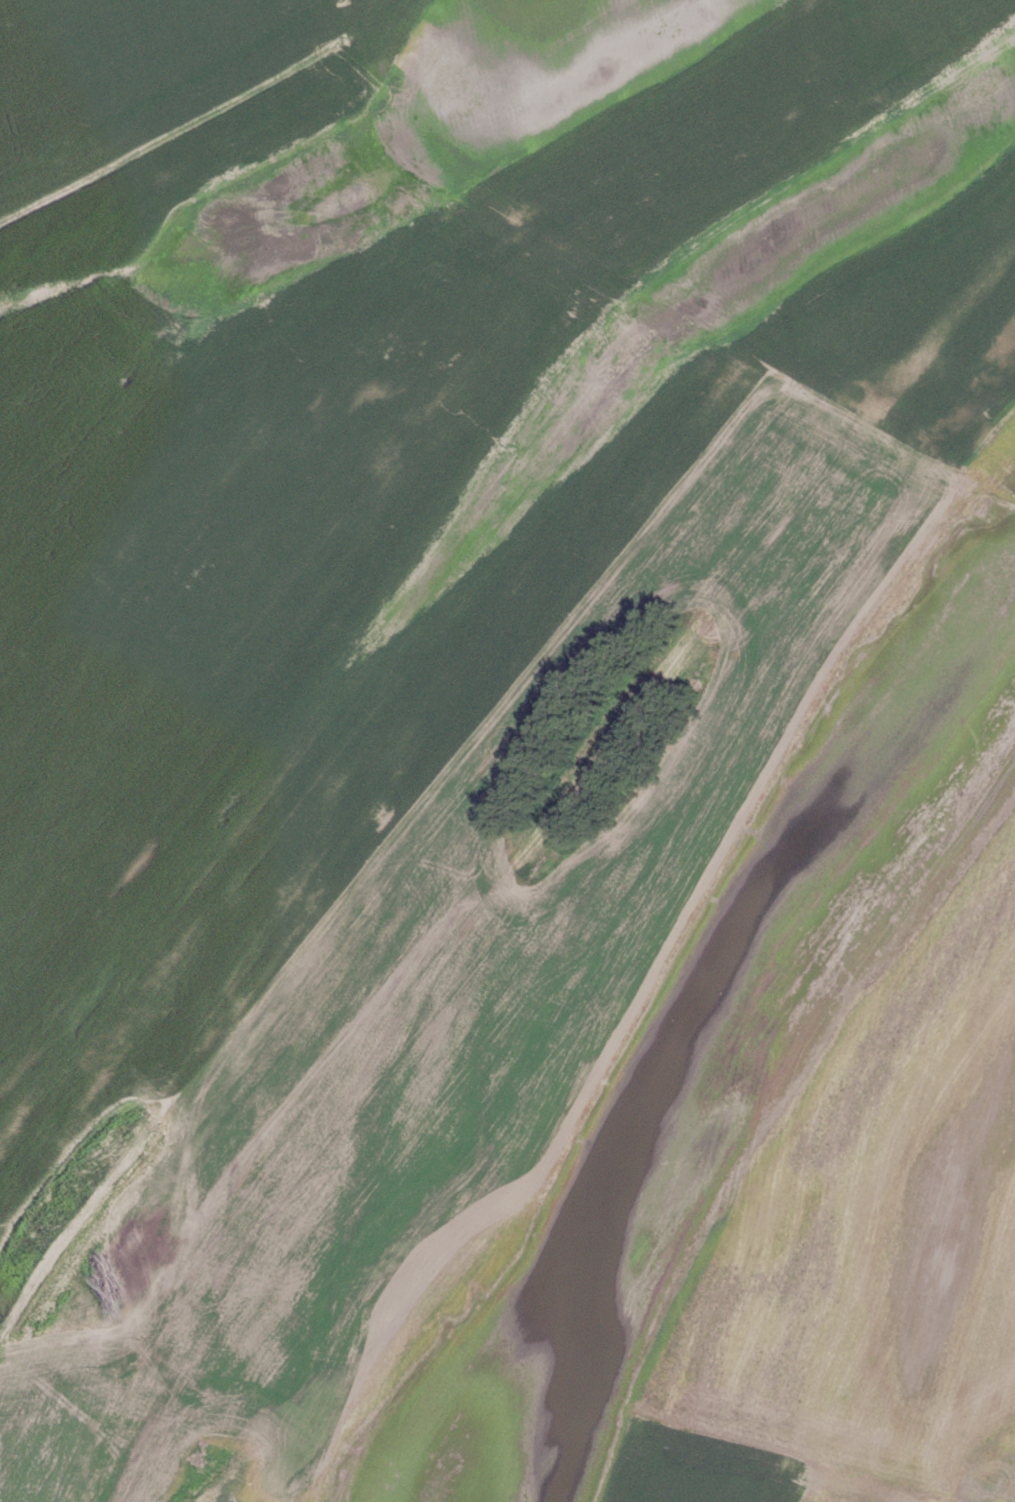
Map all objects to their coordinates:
road: (172, 126)
road: (627, 287)
crop: (511, 745)
road: (68, 1333)

